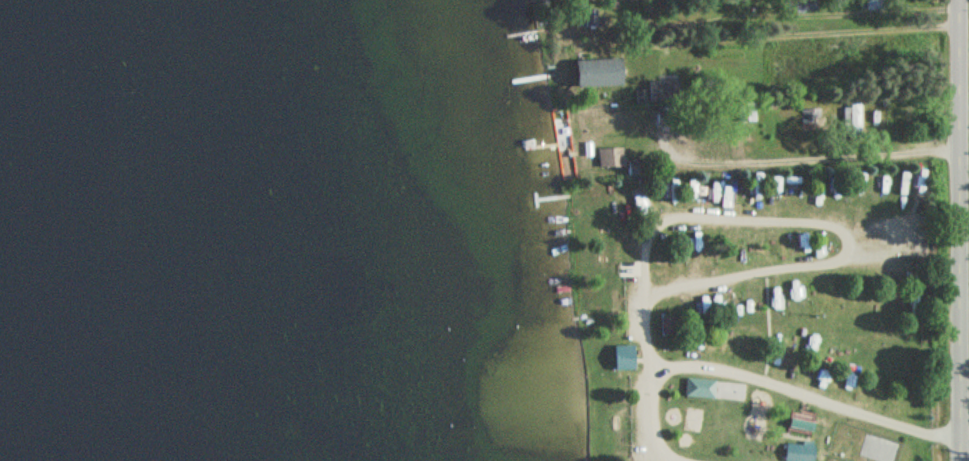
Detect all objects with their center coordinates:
building: (873, 4)
road: (968, 14)
building: (590, 18)
building: (595, 72)
building: (659, 91)
building: (746, 111)
building: (852, 115)
building: (811, 119)
building: (610, 156)
road: (784, 219)
park: (766, 316)
road: (965, 318)
building: (668, 324)
building: (623, 357)
road: (763, 382)
building: (716, 388)
building: (802, 420)
building: (799, 452)
road: (654, 454)

